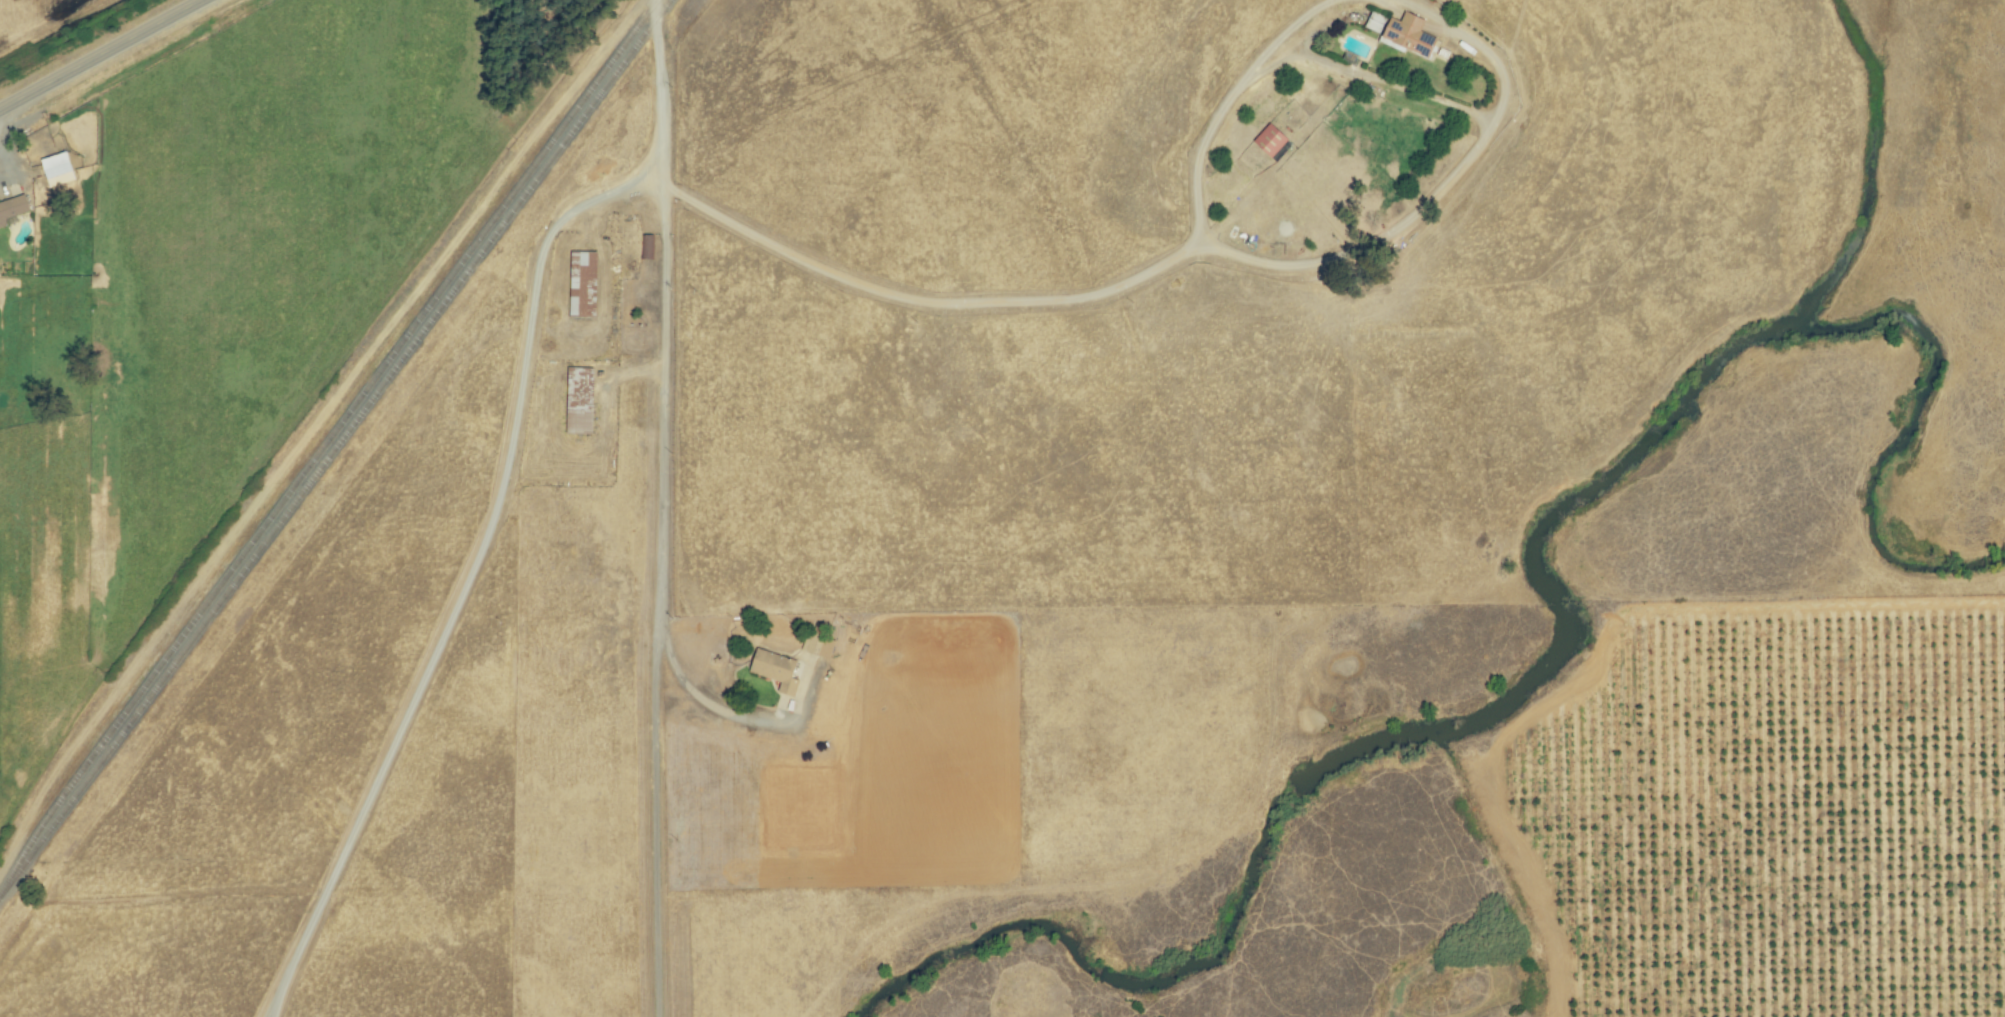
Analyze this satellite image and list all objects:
building: (1376, 21)
building: (1411, 35)
road: (102, 55)
road: (1360, 79)
road: (1230, 99)
building: (1272, 140)
building: (58, 170)
road: (1444, 181)
building: (13, 209)
road: (538, 279)
building: (584, 284)
road: (668, 335)
building: (581, 400)
railway: (325, 445)
railway: (335, 450)
building: (819, 644)
building: (777, 669)
road: (701, 696)
road: (657, 844)
road: (283, 1007)

